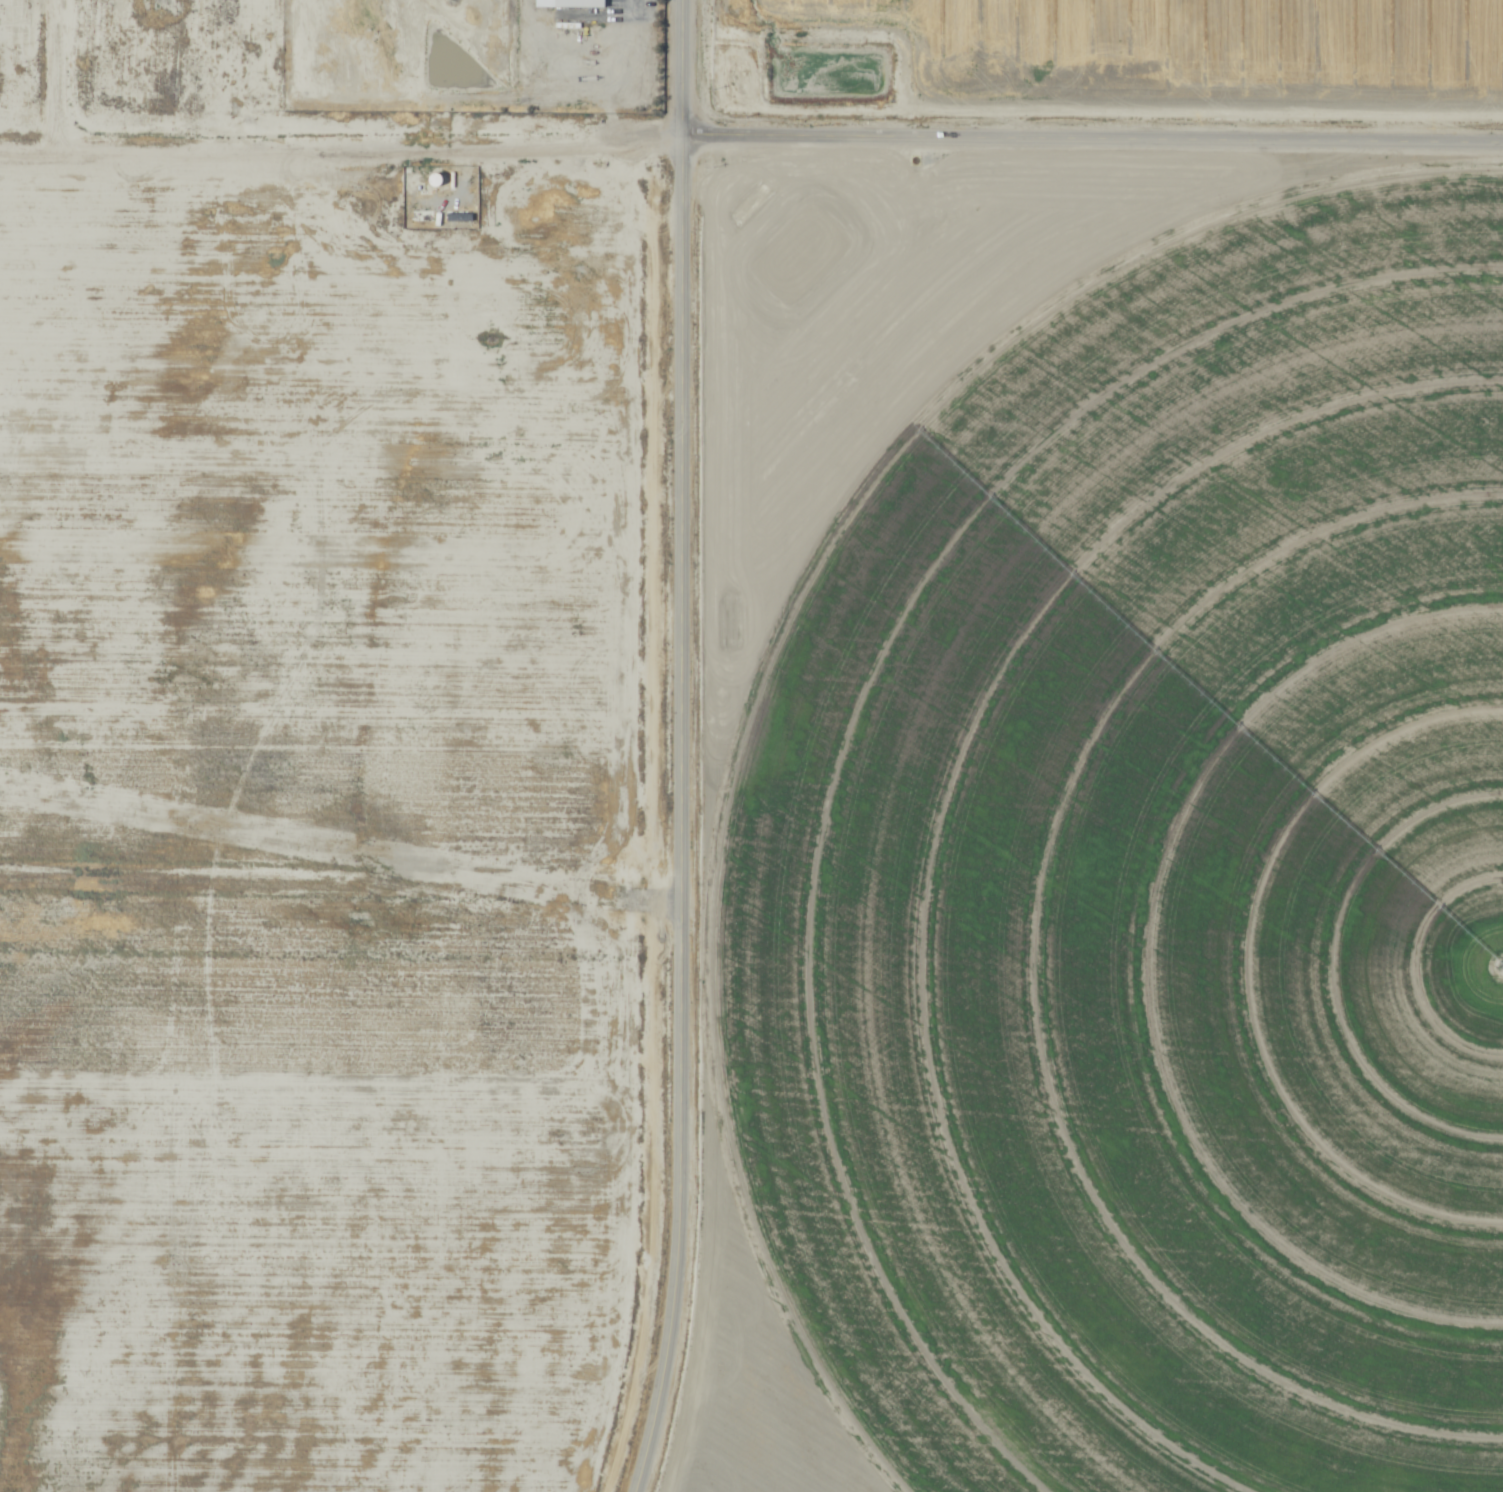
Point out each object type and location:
building: (579, 3)
road: (53, 81)
road: (1093, 142)
road: (342, 150)
building: (435, 179)
road: (690, 748)
crop: (1122, 783)
road: (1098, 1025)

